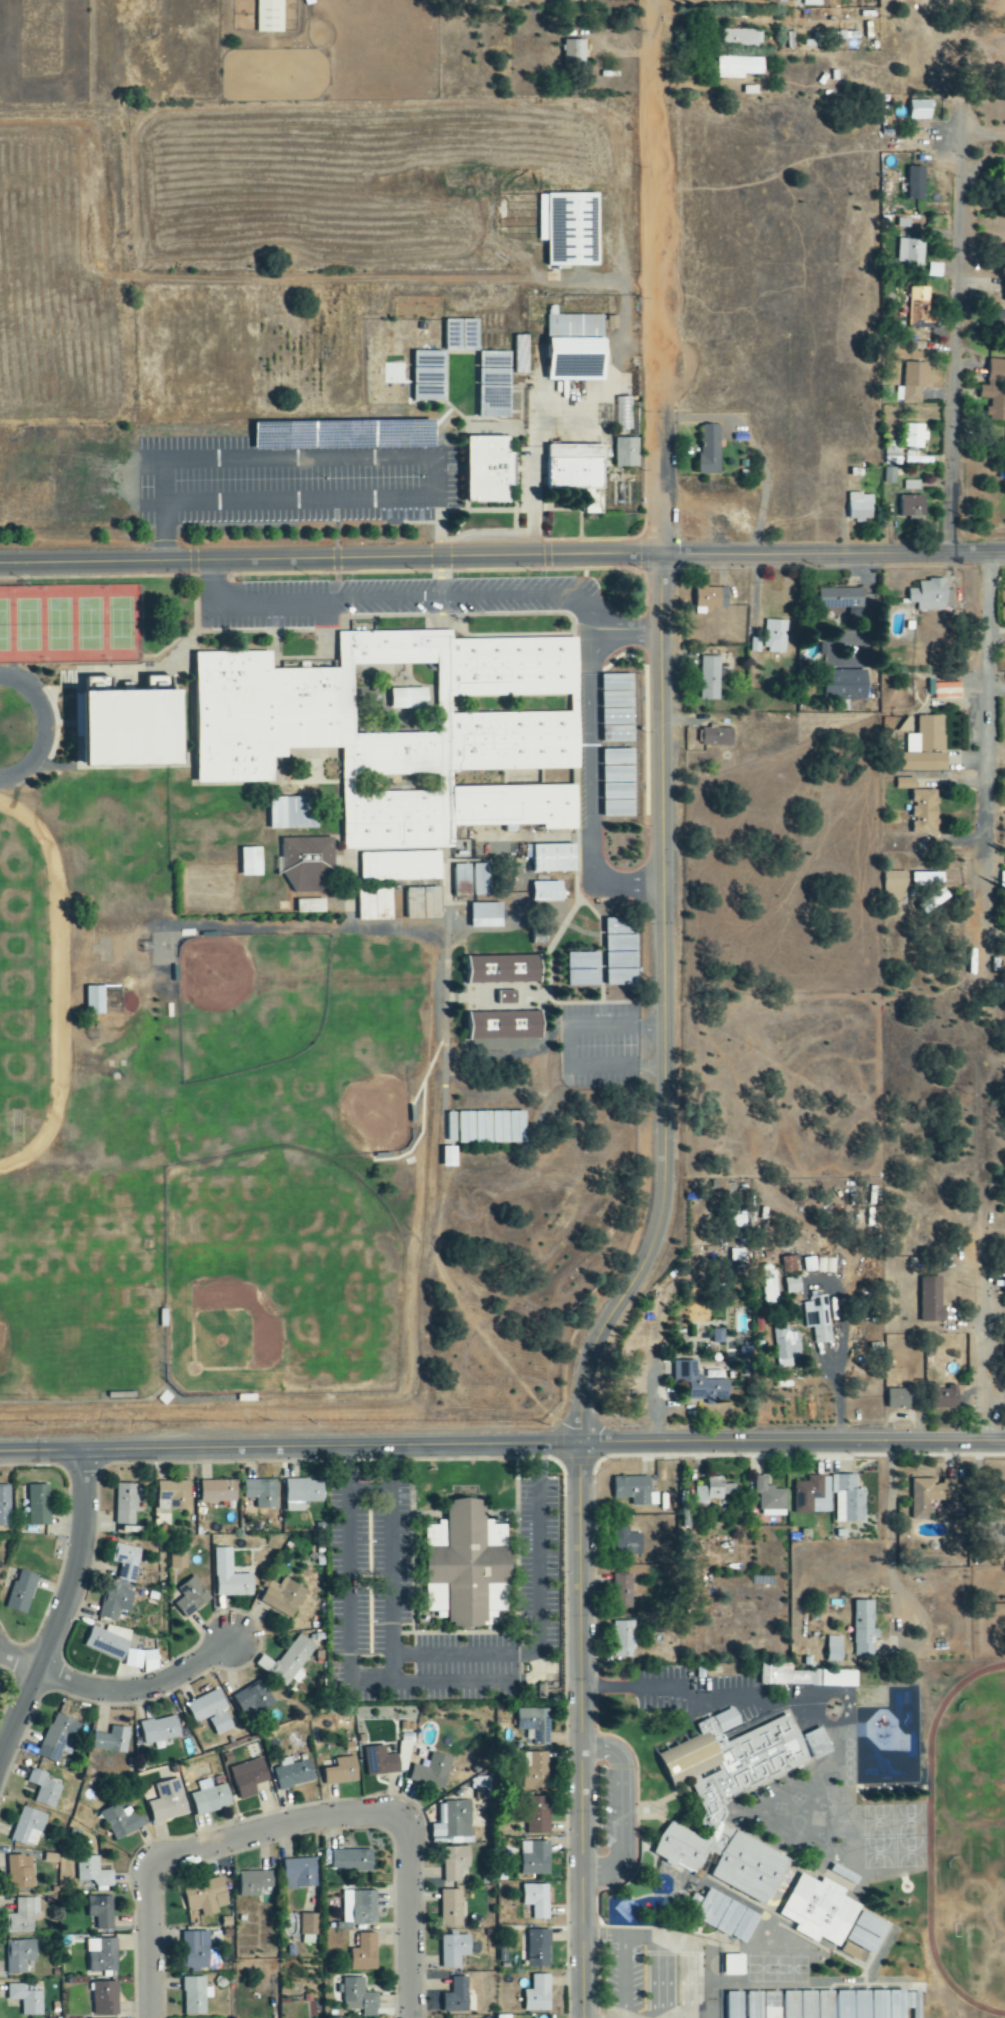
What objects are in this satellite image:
building: (554, 0)
building: (797, 0)
building: (813, 3)
building: (270, 17)
building: (742, 38)
building: (575, 53)
building: (738, 68)
building: (920, 109)
building: (916, 183)
building: (570, 228)
building: (910, 253)
road: (658, 277)
building: (919, 311)
road: (956, 331)
building: (576, 346)
building: (522, 354)
building: (429, 376)
building: (914, 381)
building: (995, 391)
building: (625, 414)
building: (914, 436)
building: (710, 449)
building: (892, 451)
building: (627, 452)
building: (490, 469)
building: (890, 475)
building: (911, 485)
building: (912, 506)
building: (860, 507)
road: (832, 554)
road: (329, 557)
road: (423, 594)
building: (932, 595)
building: (710, 599)
building: (843, 600)
building: (361, 626)
building: (775, 634)
building: (710, 678)
building: (848, 686)
building: (947, 691)
road: (960, 704)
building: (616, 708)
building: (134, 728)
building: (403, 729)
building: (716, 737)
building: (926, 746)
building: (905, 784)
road: (588, 793)
building: (618, 809)
building: (924, 812)
building: (292, 813)
building: (553, 858)
building: (251, 862)
building: (307, 863)
building: (399, 866)
building: (461, 880)
building: (481, 880)
building: (927, 880)
building: (1003, 881)
building: (896, 888)
building: (547, 891)
building: (421, 903)
building: (310, 906)
road: (663, 910)
building: (486, 915)
building: (621, 952)
building: (583, 961)
building: (504, 971)
building: (582, 978)
building: (95, 1001)
building: (450, 1127)
building: (491, 1128)
building: (737, 1221)
building: (788, 1265)
building: (818, 1265)
building: (768, 1285)
building: (792, 1286)
building: (931, 1300)
building: (815, 1313)
building: (821, 1335)
road: (998, 1336)
building: (785, 1346)
road: (593, 1347)
building: (900, 1398)
building: (944, 1398)
road: (792, 1442)
road: (290, 1449)
building: (218, 1491)
building: (713, 1491)
building: (261, 1492)
building: (635, 1492)
building: (303, 1493)
building: (813, 1496)
building: (930, 1496)
building: (769, 1498)
building: (848, 1500)
building: (126, 1503)
building: (39, 1504)
building: (5, 1506)
building: (628, 1541)
building: (178, 1560)
building: (126, 1562)
building: (465, 1562)
building: (230, 1576)
building: (622, 1590)
building: (21, 1592)
building: (191, 1596)
building: (284, 1596)
building: (115, 1600)
road: (63, 1611)
building: (864, 1627)
building: (624, 1639)
building: (108, 1641)
building: (834, 1649)
building: (142, 1659)
building: (287, 1660)
building: (804, 1676)
road: (120, 1691)
building: (542, 1691)
building: (254, 1699)
building: (211, 1712)
building: (535, 1724)
building: (160, 1729)
road: (581, 1731)
building: (58, 1738)
building: (111, 1740)
building: (818, 1743)
building: (380, 1761)
building: (539, 1770)
building: (341, 1771)
building: (433, 1771)
building: (293, 1773)
building: (249, 1777)
building: (44, 1788)
building: (210, 1797)
building: (168, 1801)
building: (711, 1805)
building: (538, 1815)
building: (456, 1818)
building: (122, 1821)
road: (297, 1821)
building: (28, 1827)
building: (535, 1858)
building: (351, 1860)
building: (455, 1862)
building: (21, 1871)
building: (93, 1872)
building: (300, 1873)
building: (254, 1883)
building: (205, 1896)
building: (538, 1900)
building: (359, 1907)
building: (451, 1907)
building: (821, 1910)
building: (100, 1911)
building: (23, 1915)
building: (727, 1916)
building: (309, 1924)
building: (867, 1931)
building: (538, 1948)
building: (454, 1949)
building: (195, 1950)
building: (851, 1951)
building: (364, 1953)
building: (19, 1955)
building: (102, 1955)
building: (734, 1964)
building: (539, 1993)
building: (195, 1995)
building: (458, 1996)
building: (359, 1997)
building: (26, 1998)
building: (105, 1998)
building: (764, 2004)
building: (809, 2004)
building: (880, 2004)
building: (503, 2016)

